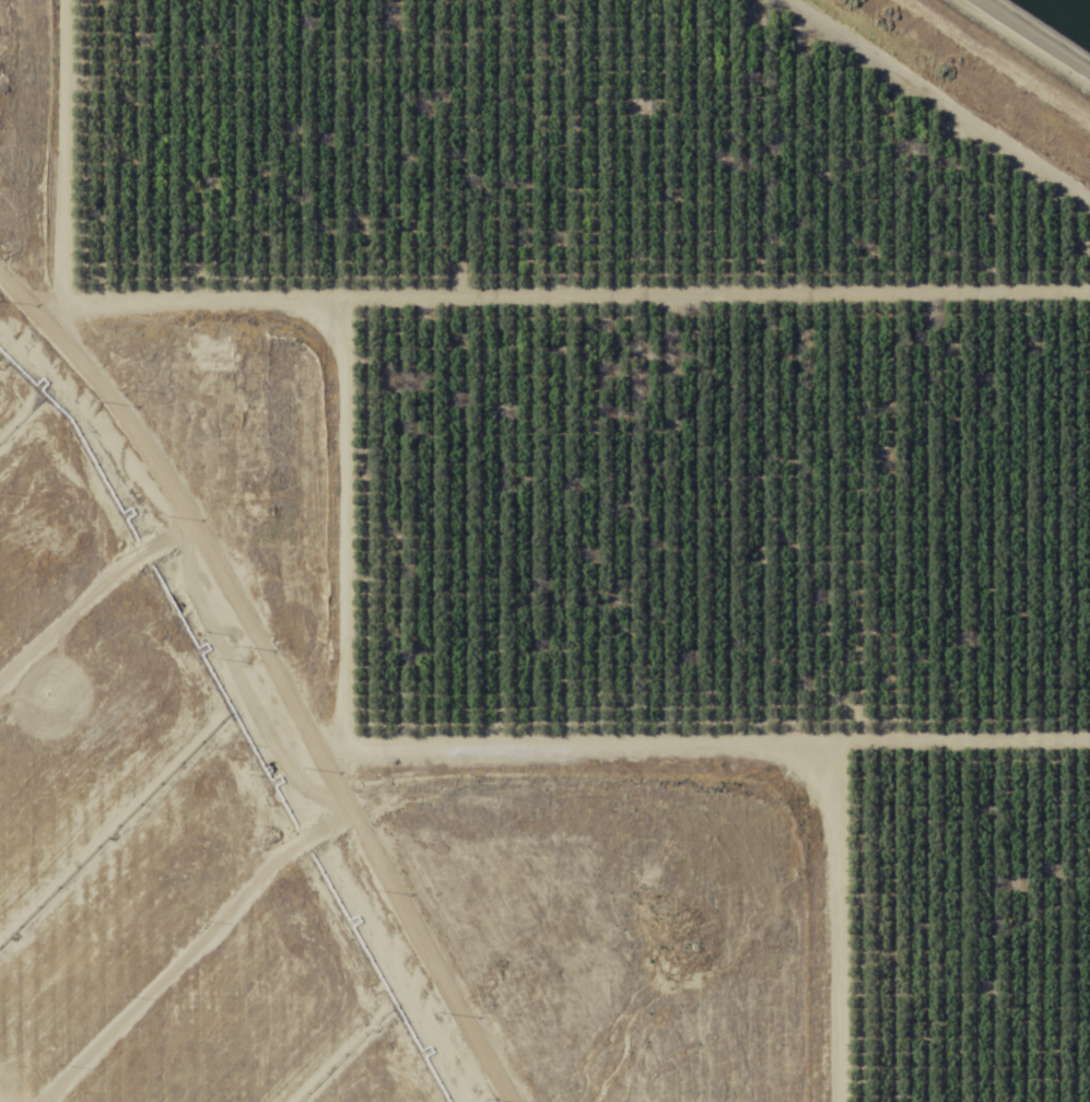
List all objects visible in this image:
road: (1029, 39)

